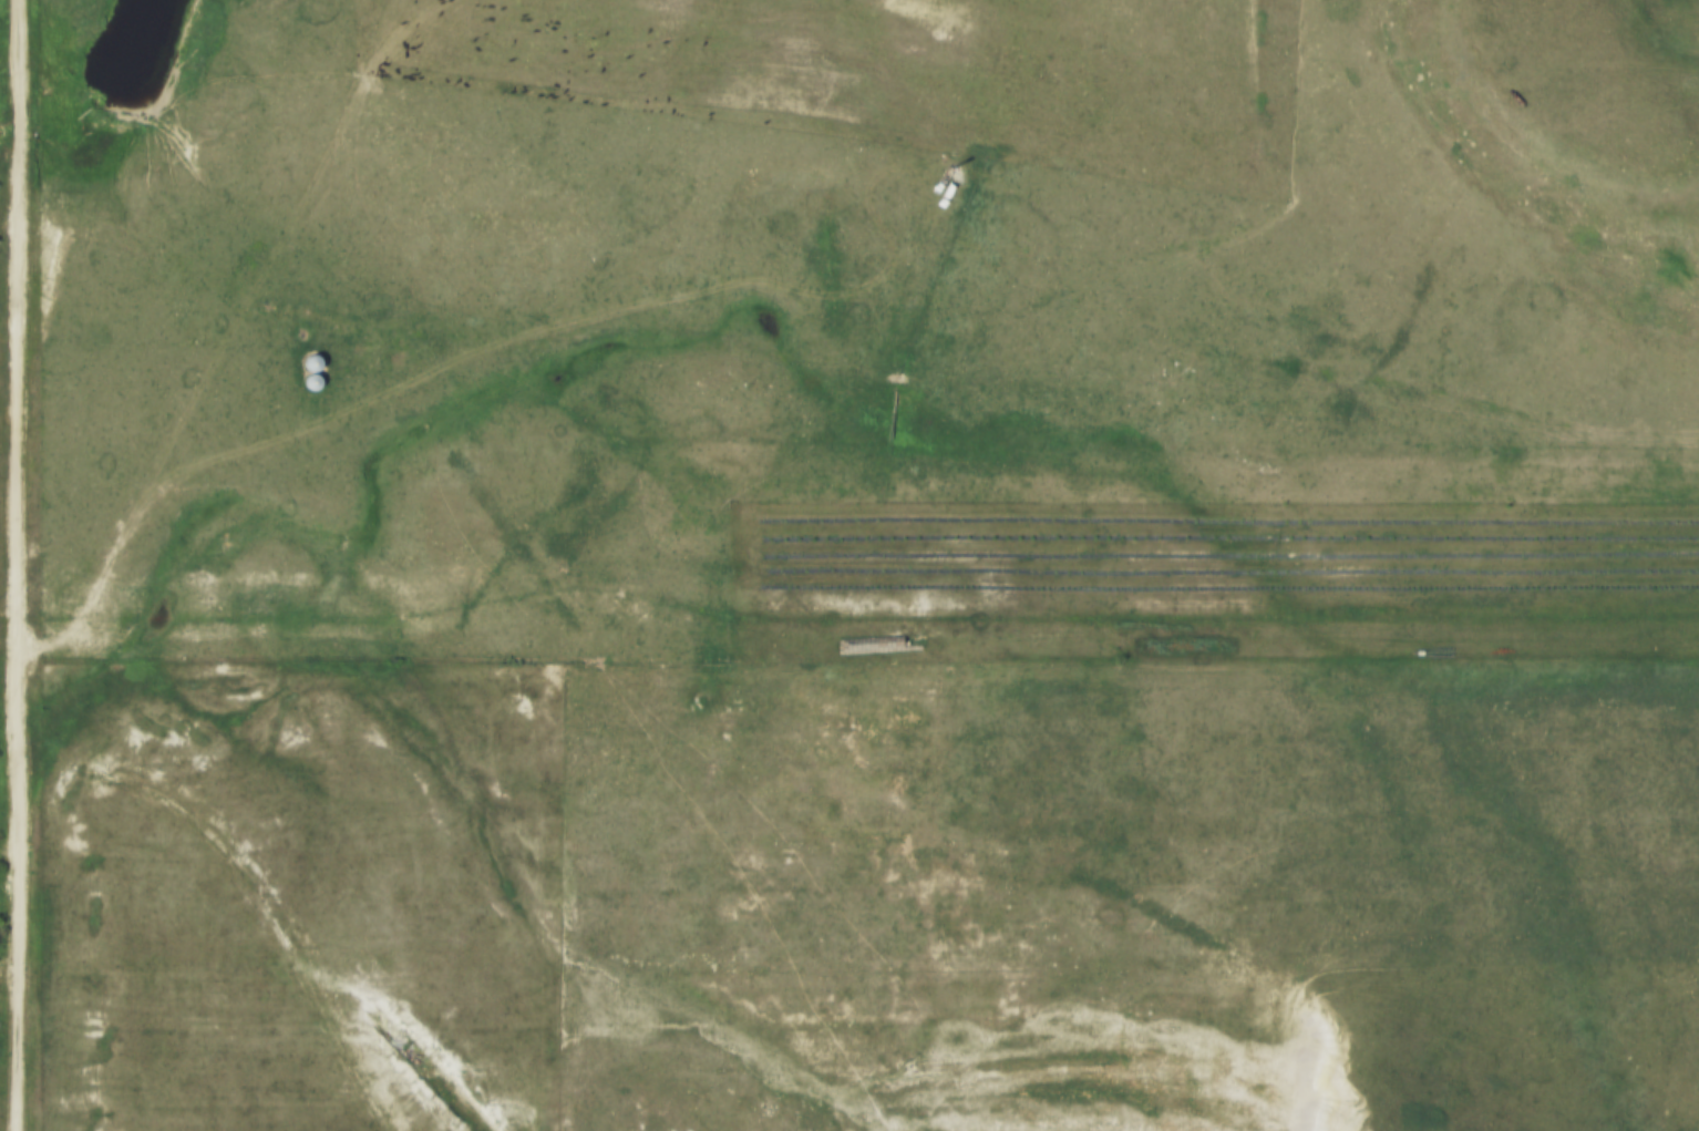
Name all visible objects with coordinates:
road: (230, 359)
building: (305, 372)
building: (895, 400)
road: (12, 565)

